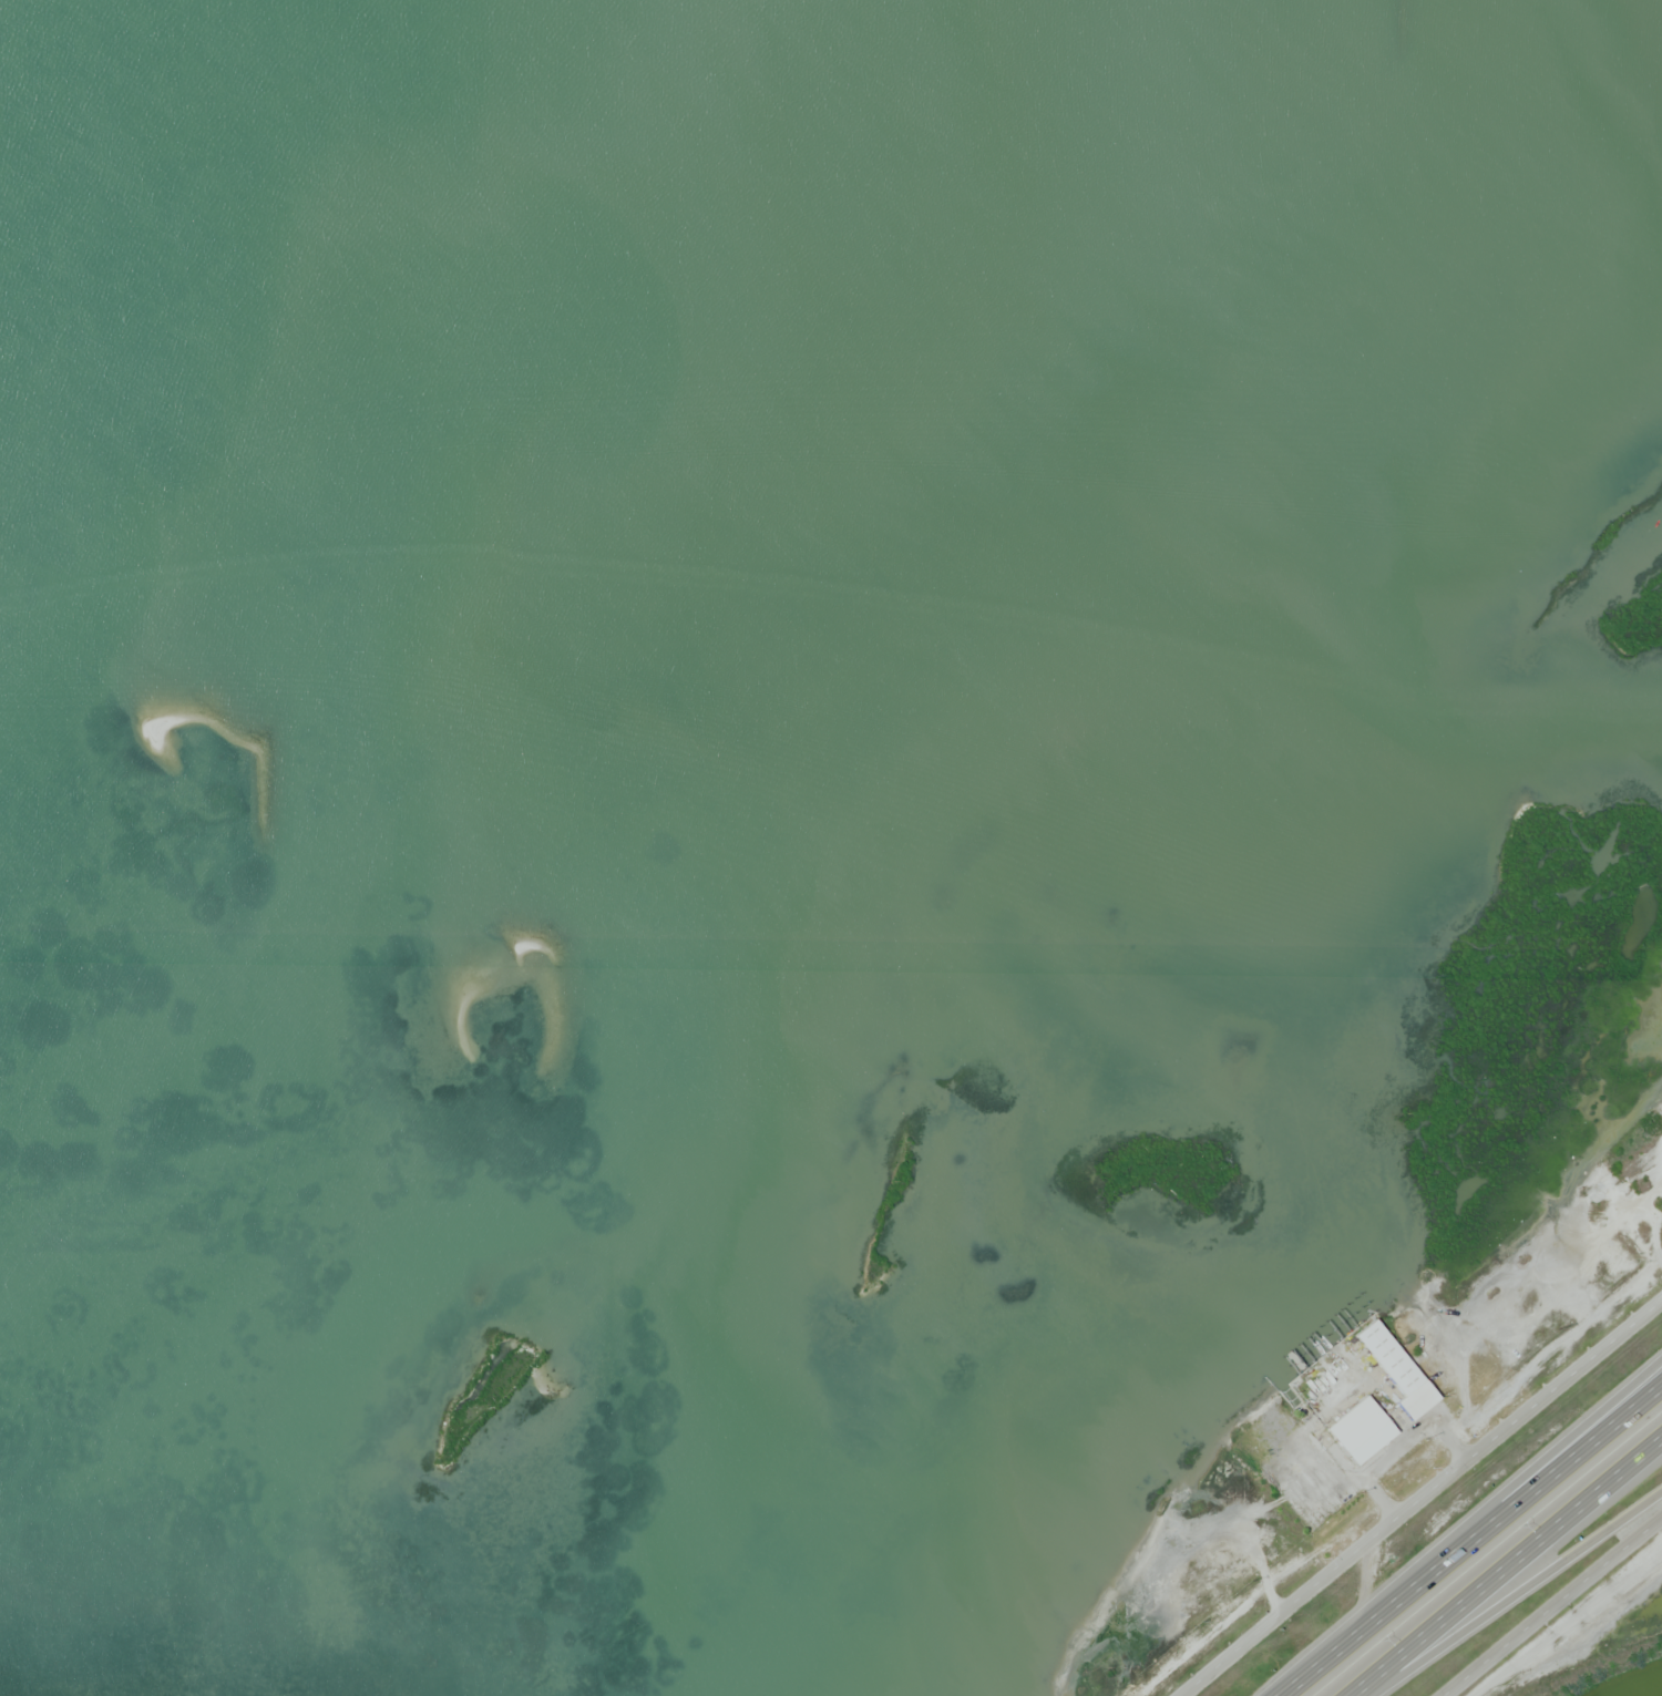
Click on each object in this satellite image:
building: (1301, 1357)
building: (1396, 1370)
road: (1630, 1406)
building: (1360, 1432)
road: (1422, 1500)
road: (1471, 1541)
road: (1505, 1566)
road: (1515, 1591)
road: (1553, 1607)
park: (1603, 1646)
railway: (1593, 1669)

